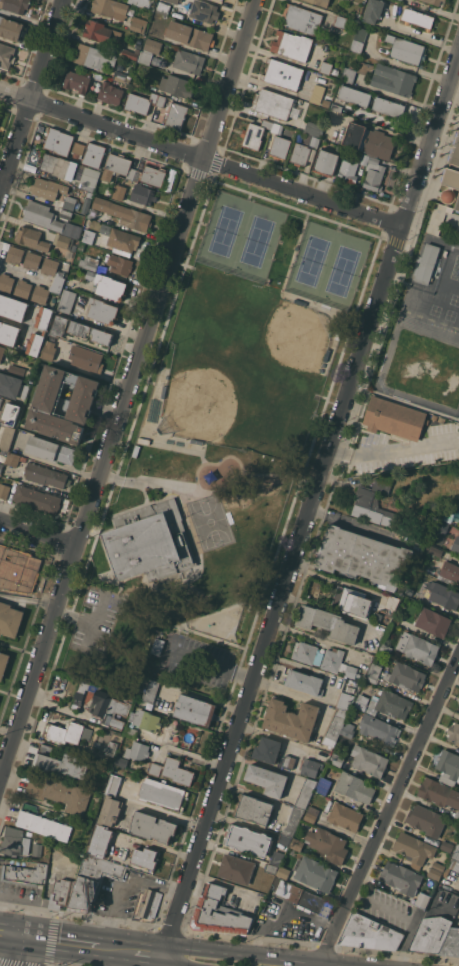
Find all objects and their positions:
building: (220, 0)
building: (174, 1)
building: (140, 2)
building: (319, 2)
building: (436, 2)
building: (15, 5)
building: (111, 8)
building: (163, 8)
building: (131, 9)
building: (373, 10)
building: (203, 11)
building: (301, 18)
building: (418, 18)
building: (158, 19)
building: (343, 22)
building: (139, 24)
building: (11, 28)
building: (99, 31)
building: (189, 34)
building: (359, 39)
building: (292, 45)
building: (406, 49)
building: (149, 50)
building: (130, 51)
road: (200, 51)
building: (6, 54)
building: (92, 56)
building: (159, 61)
building: (189, 61)
building: (326, 67)
building: (357, 70)
building: (335, 71)
building: (283, 74)
building: (121, 76)
building: (393, 79)
building: (77, 81)
building: (139, 82)
building: (177, 85)
road: (31, 93)
building: (110, 93)
building: (354, 95)
building: (316, 98)
building: (161, 101)
building: (140, 102)
building: (275, 104)
building: (388, 106)
building: (336, 107)
building: (176, 114)
building: (313, 128)
building: (255, 134)
building: (306, 138)
building: (369, 140)
building: (59, 141)
building: (280, 141)
building: (314, 141)
building: (78, 149)
building: (340, 149)
building: (94, 154)
building: (300, 154)
road: (201, 157)
building: (363, 158)
building: (325, 162)
building: (121, 167)
building: (348, 169)
building: (70, 170)
building: (374, 174)
building: (451, 174)
building: (153, 175)
building: (47, 188)
building: (109, 192)
building: (117, 194)
building: (143, 194)
building: (87, 199)
building: (69, 202)
building: (457, 205)
building: (65, 213)
building: (124, 214)
building: (42, 215)
park: (228, 231)
building: (88, 236)
building: (32, 238)
building: (62, 240)
building: (121, 240)
park: (260, 241)
building: (81, 246)
building: (15, 254)
building: (32, 259)
park: (315, 261)
building: (89, 262)
building: (427, 263)
building: (120, 264)
building: (50, 266)
road: (19, 270)
park: (345, 271)
building: (6, 282)
building: (107, 285)
building: (22, 288)
building: (48, 288)
building: (67, 301)
building: (12, 307)
building: (102, 310)
building: (43, 318)
building: (59, 325)
building: (78, 328)
building: (8, 333)
building: (101, 336)
building: (35, 343)
park: (277, 349)
building: (48, 350)
building: (2, 352)
building: (86, 358)
building: (12, 386)
road: (127, 392)
park: (216, 394)
building: (0, 399)
building: (46, 402)
building: (12, 418)
building: (394, 418)
building: (7, 437)
park: (219, 447)
building: (50, 450)
road: (393, 450)
building: (3, 452)
building: (13, 459)
building: (1, 465)
road: (244, 465)
building: (46, 475)
building: (4, 490)
building: (37, 498)
building: (376, 505)
building: (456, 510)
road: (309, 512)
building: (447, 515)
park: (213, 522)
building: (441, 527)
road: (38, 534)
building: (150, 541)
building: (456, 544)
road: (198, 546)
building: (435, 551)
building: (2, 554)
building: (363, 557)
building: (24, 566)
building: (449, 572)
building: (1, 581)
building: (414, 593)
building: (443, 594)
road: (29, 598)
building: (352, 601)
building: (392, 602)
building: (378, 616)
road: (76, 618)
building: (10, 619)
building: (396, 620)
parking lot: (98, 621)
road: (98, 621)
building: (433, 622)
building: (328, 623)
building: (157, 646)
building: (418, 647)
building: (385, 648)
building: (307, 653)
parking lot: (198, 660)
building: (3, 663)
building: (339, 663)
road: (210, 665)
building: (374, 672)
building: (403, 678)
building: (304, 681)
building: (151, 691)
building: (345, 700)
building: (361, 701)
building: (102, 704)
building: (390, 704)
building: (458, 709)
building: (194, 710)
building: (291, 719)
building: (146, 720)
building: (335, 726)
building: (377, 728)
building: (347, 729)
road: (8, 731)
building: (69, 732)
building: (131, 732)
building: (454, 733)
building: (114, 736)
building: (111, 748)
building: (267, 749)
building: (135, 750)
road: (188, 756)
building: (336, 759)
building: (369, 760)
building: (121, 761)
building: (288, 761)
building: (60, 762)
building: (448, 766)
building: (310, 767)
building: (173, 771)
building: (267, 779)
building: (113, 784)
building: (323, 785)
building: (354, 787)
building: (59, 792)
building: (439, 792)
building: (305, 793)
building: (162, 794)
road: (160, 808)
building: (252, 809)
building: (110, 810)
road: (389, 810)
road: (157, 811)
building: (311, 813)
building: (345, 816)
building: (456, 816)
building: (426, 820)
building: (293, 821)
building: (42, 823)
building: (153, 826)
building: (79, 830)
building: (284, 839)
building: (100, 840)
building: (248, 840)
building: (14, 842)
building: (296, 844)
building: (328, 844)
building: (447, 846)
building: (414, 848)
building: (36, 849)
building: (456, 852)
building: (145, 857)
building: (277, 857)
building: (235, 868)
building: (270, 868)
building: (442, 868)
building: (283, 872)
building: (314, 873)
building: (25, 874)
building: (401, 877)
building: (93, 881)
road: (117, 888)
road: (455, 889)
building: (60, 893)
building: (304, 897)
building: (422, 899)
building: (146, 905)
building: (271, 909)
building: (217, 913)
road: (285, 916)
road: (403, 917)
road: (15, 921)
traffic signals: (31, 924)
building: (369, 933)
road: (29, 934)
building: (430, 934)
road: (14, 942)
building: (450, 943)
traffic signals: (28, 945)
road: (190, 945)
road: (61, 949)
road: (22, 955)
road: (112, 956)
road: (144, 960)
road: (173, 964)

